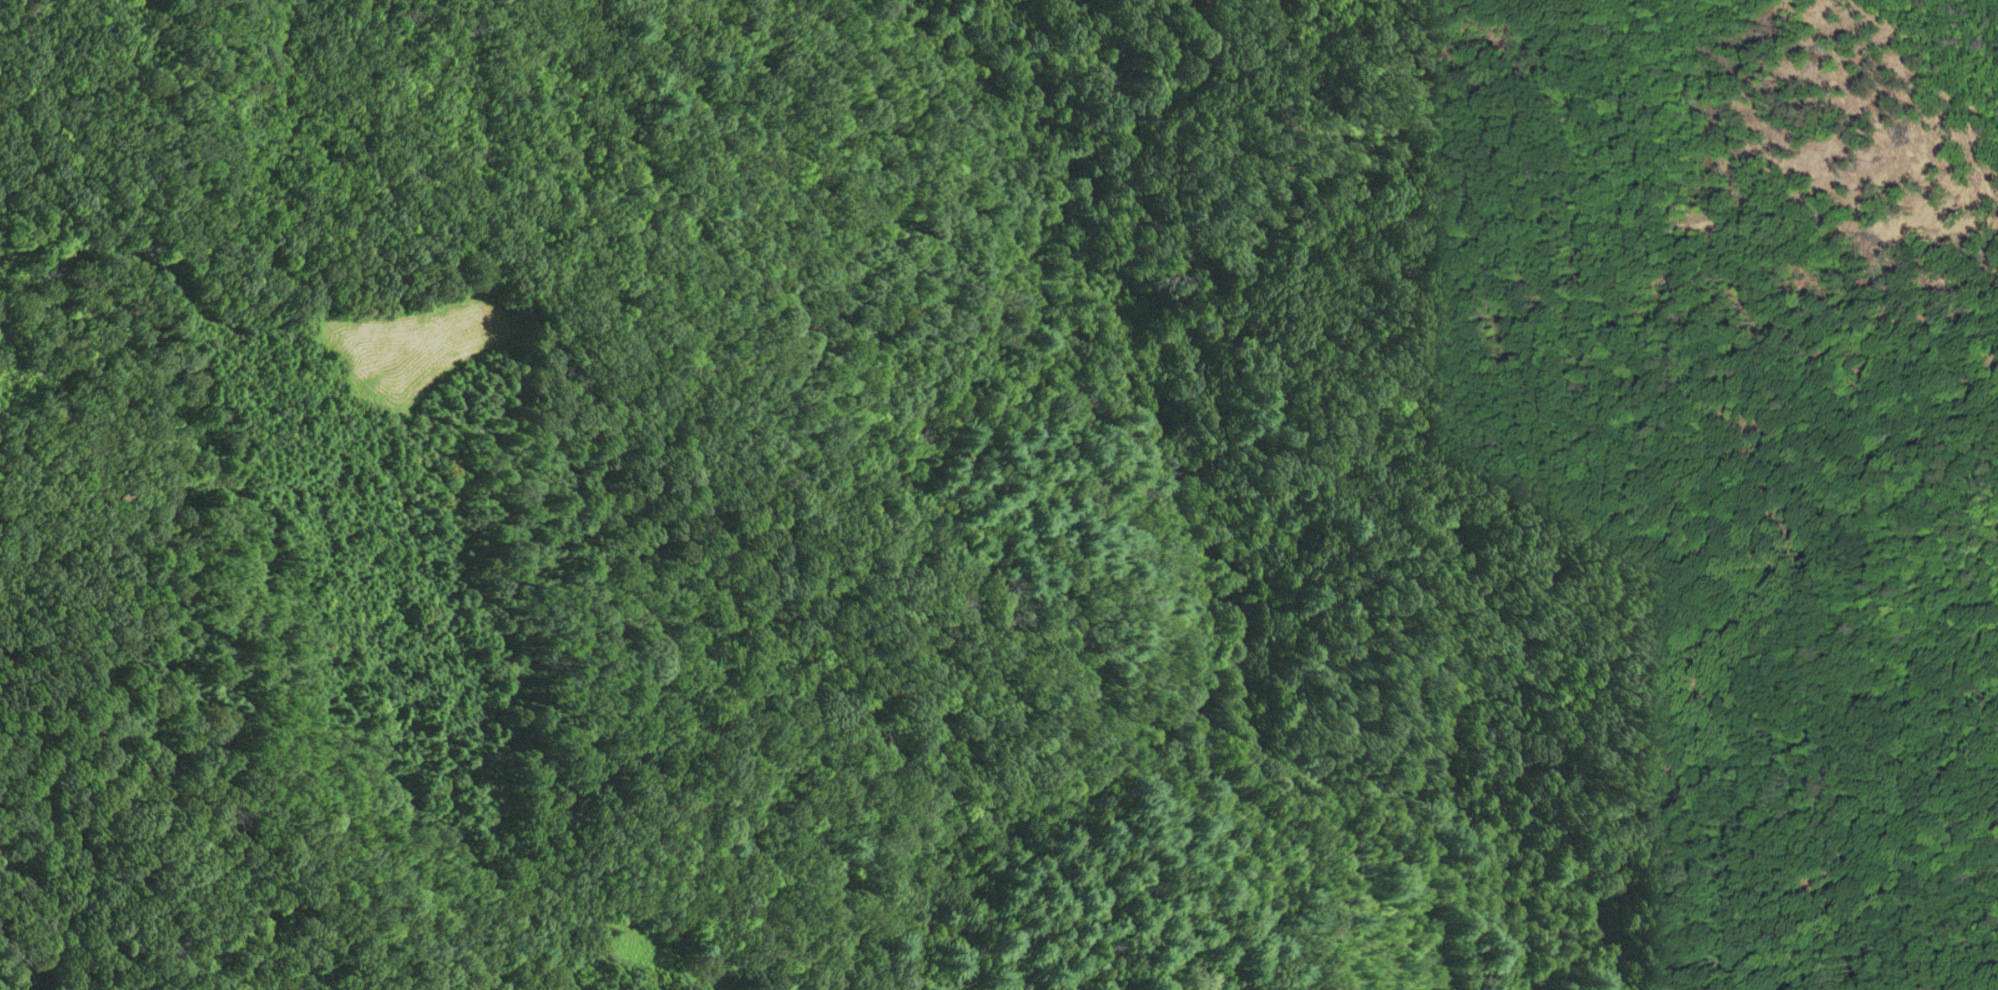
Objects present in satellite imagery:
road: (1930, 100)
road: (1160, 526)
road: (1589, 938)

